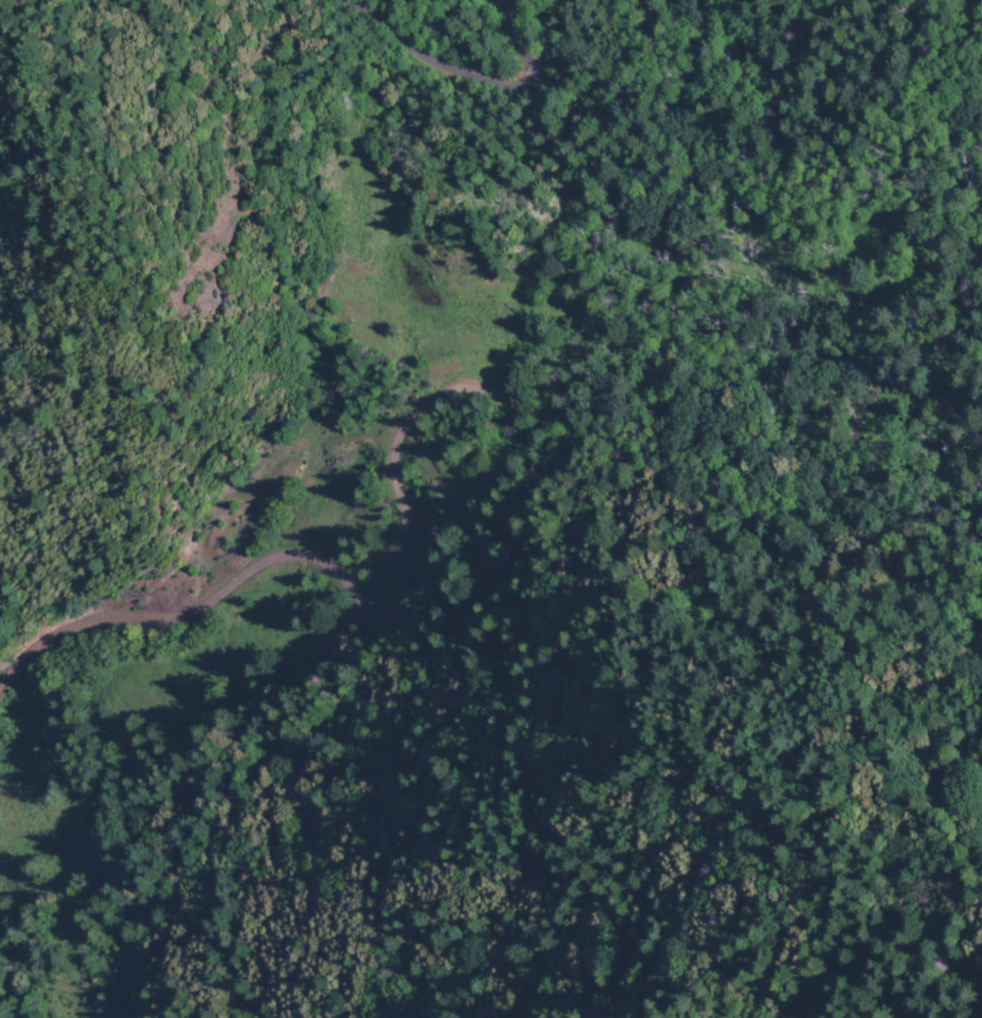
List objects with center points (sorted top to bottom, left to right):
road: (298, 100)
road: (655, 445)
road: (421, 589)
road: (323, 733)

